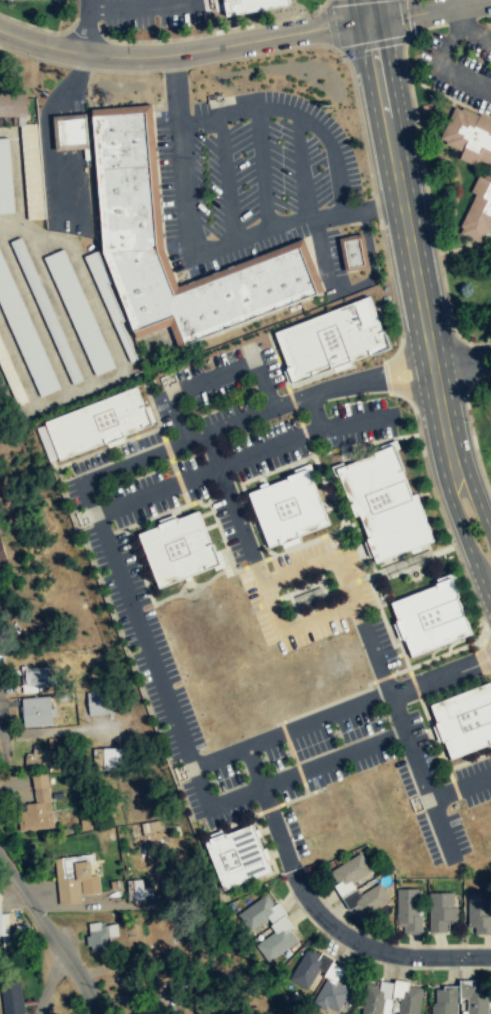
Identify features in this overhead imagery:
road: (130, 6)
building: (252, 6)
road: (415, 9)
parking lot: (151, 12)
road: (83, 33)
road: (184, 53)
building: (13, 103)
road: (293, 112)
building: (70, 132)
road: (47, 136)
building: (120, 140)
road: (264, 166)
road: (303, 166)
building: (33, 170)
road: (226, 177)
building: (5, 178)
building: (480, 201)
building: (127, 208)
road: (406, 221)
road: (35, 230)
road: (204, 249)
building: (353, 252)
road: (351, 287)
building: (210, 290)
building: (112, 307)
building: (45, 310)
building: (79, 311)
building: (24, 333)
building: (331, 341)
road: (461, 352)
road: (402, 362)
road: (463, 371)
road: (212, 377)
road: (406, 385)
road: (323, 388)
road: (314, 410)
building: (99, 422)
road: (304, 432)
road: (472, 486)
road: (157, 489)
building: (384, 504)
building: (288, 509)
road: (460, 523)
building: (178, 550)
building: (2, 555)
road: (324, 558)
road: (276, 613)
building: (429, 618)
road: (139, 626)
road: (441, 676)
building: (36, 677)
building: (99, 703)
building: (36, 713)
building: (464, 722)
road: (58, 729)
road: (350, 752)
building: (110, 758)
building: (38, 760)
road: (460, 785)
road: (214, 802)
building: (36, 808)
building: (148, 829)
building: (237, 857)
building: (76, 877)
building: (136, 891)
building: (346, 891)
building: (408, 912)
building: (441, 912)
building: (479, 914)
building: (279, 927)
building: (12, 933)
road: (51, 934)
building: (101, 935)
road: (378, 949)
building: (307, 970)
building: (330, 996)
building: (12, 998)
building: (390, 999)
building: (460, 1000)

